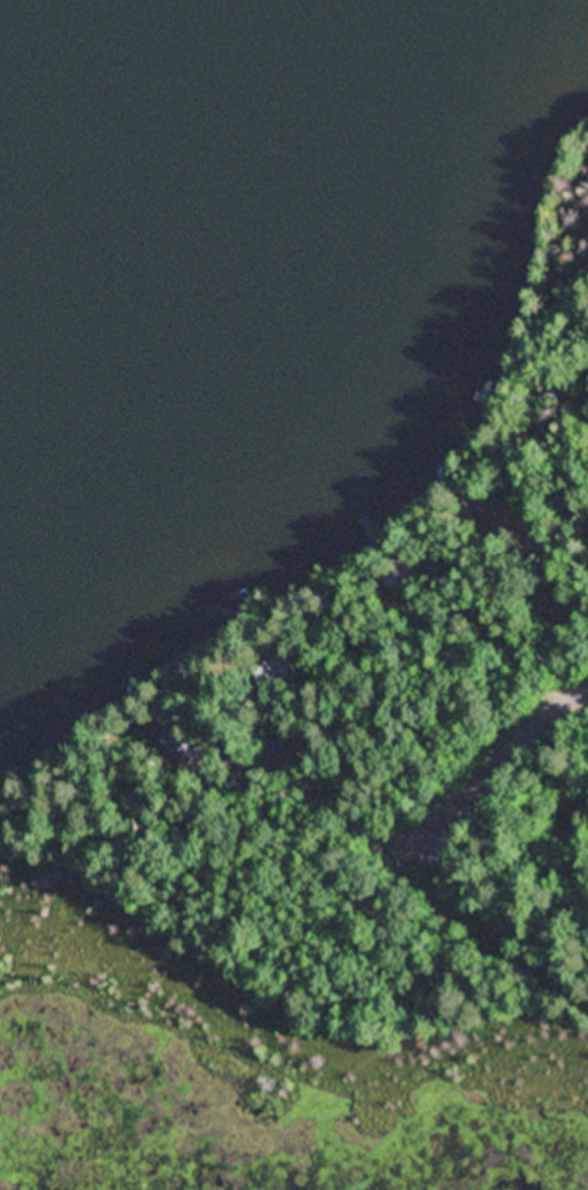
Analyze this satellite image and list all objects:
building: (493, 513)
road: (489, 767)

